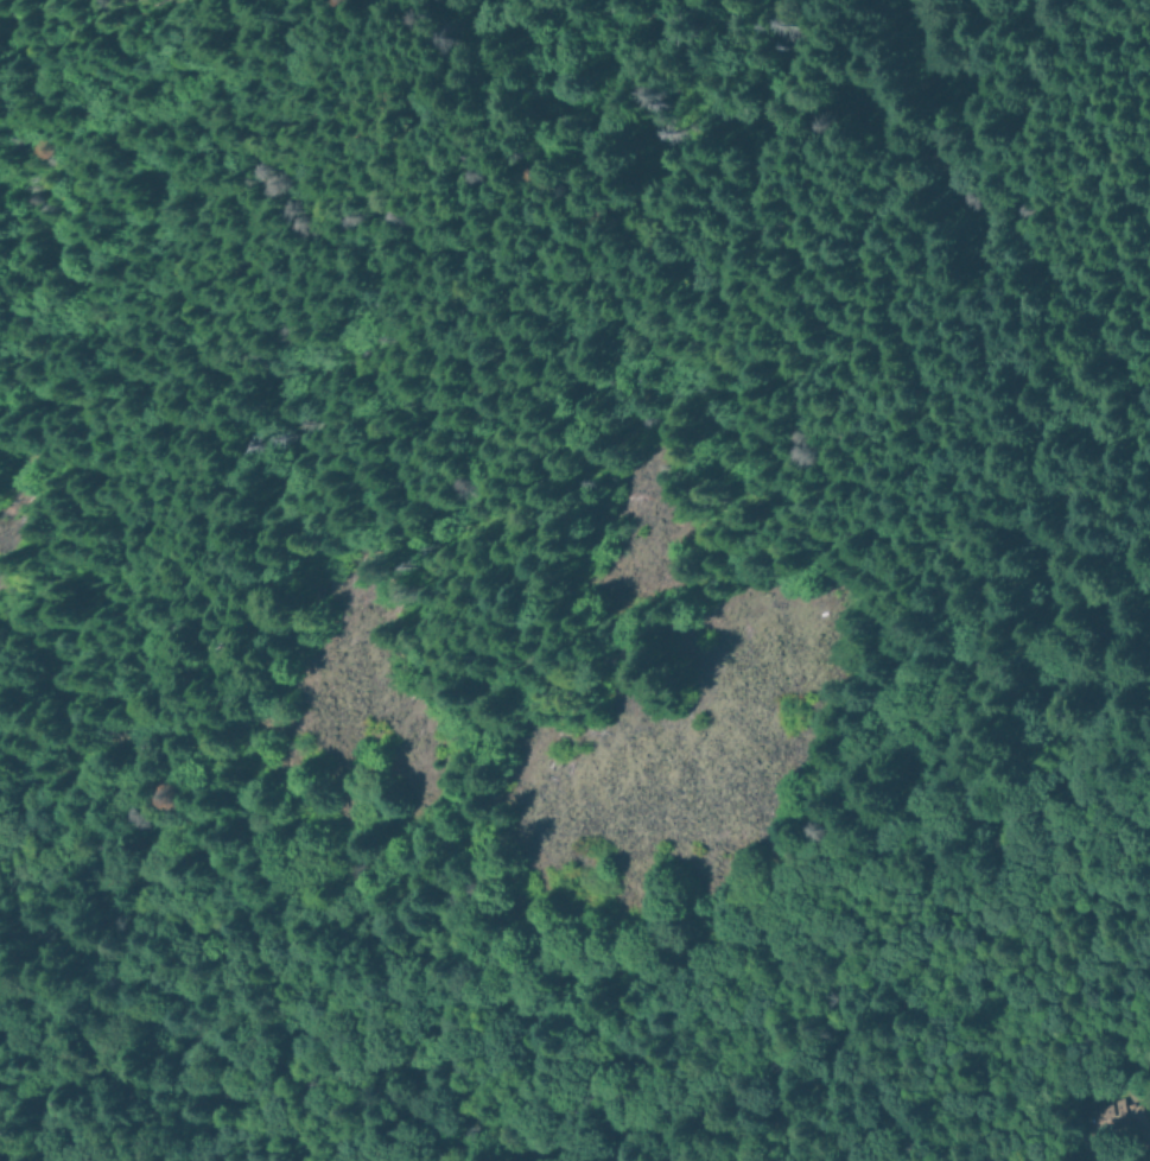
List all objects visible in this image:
building: (1148, 1123)

